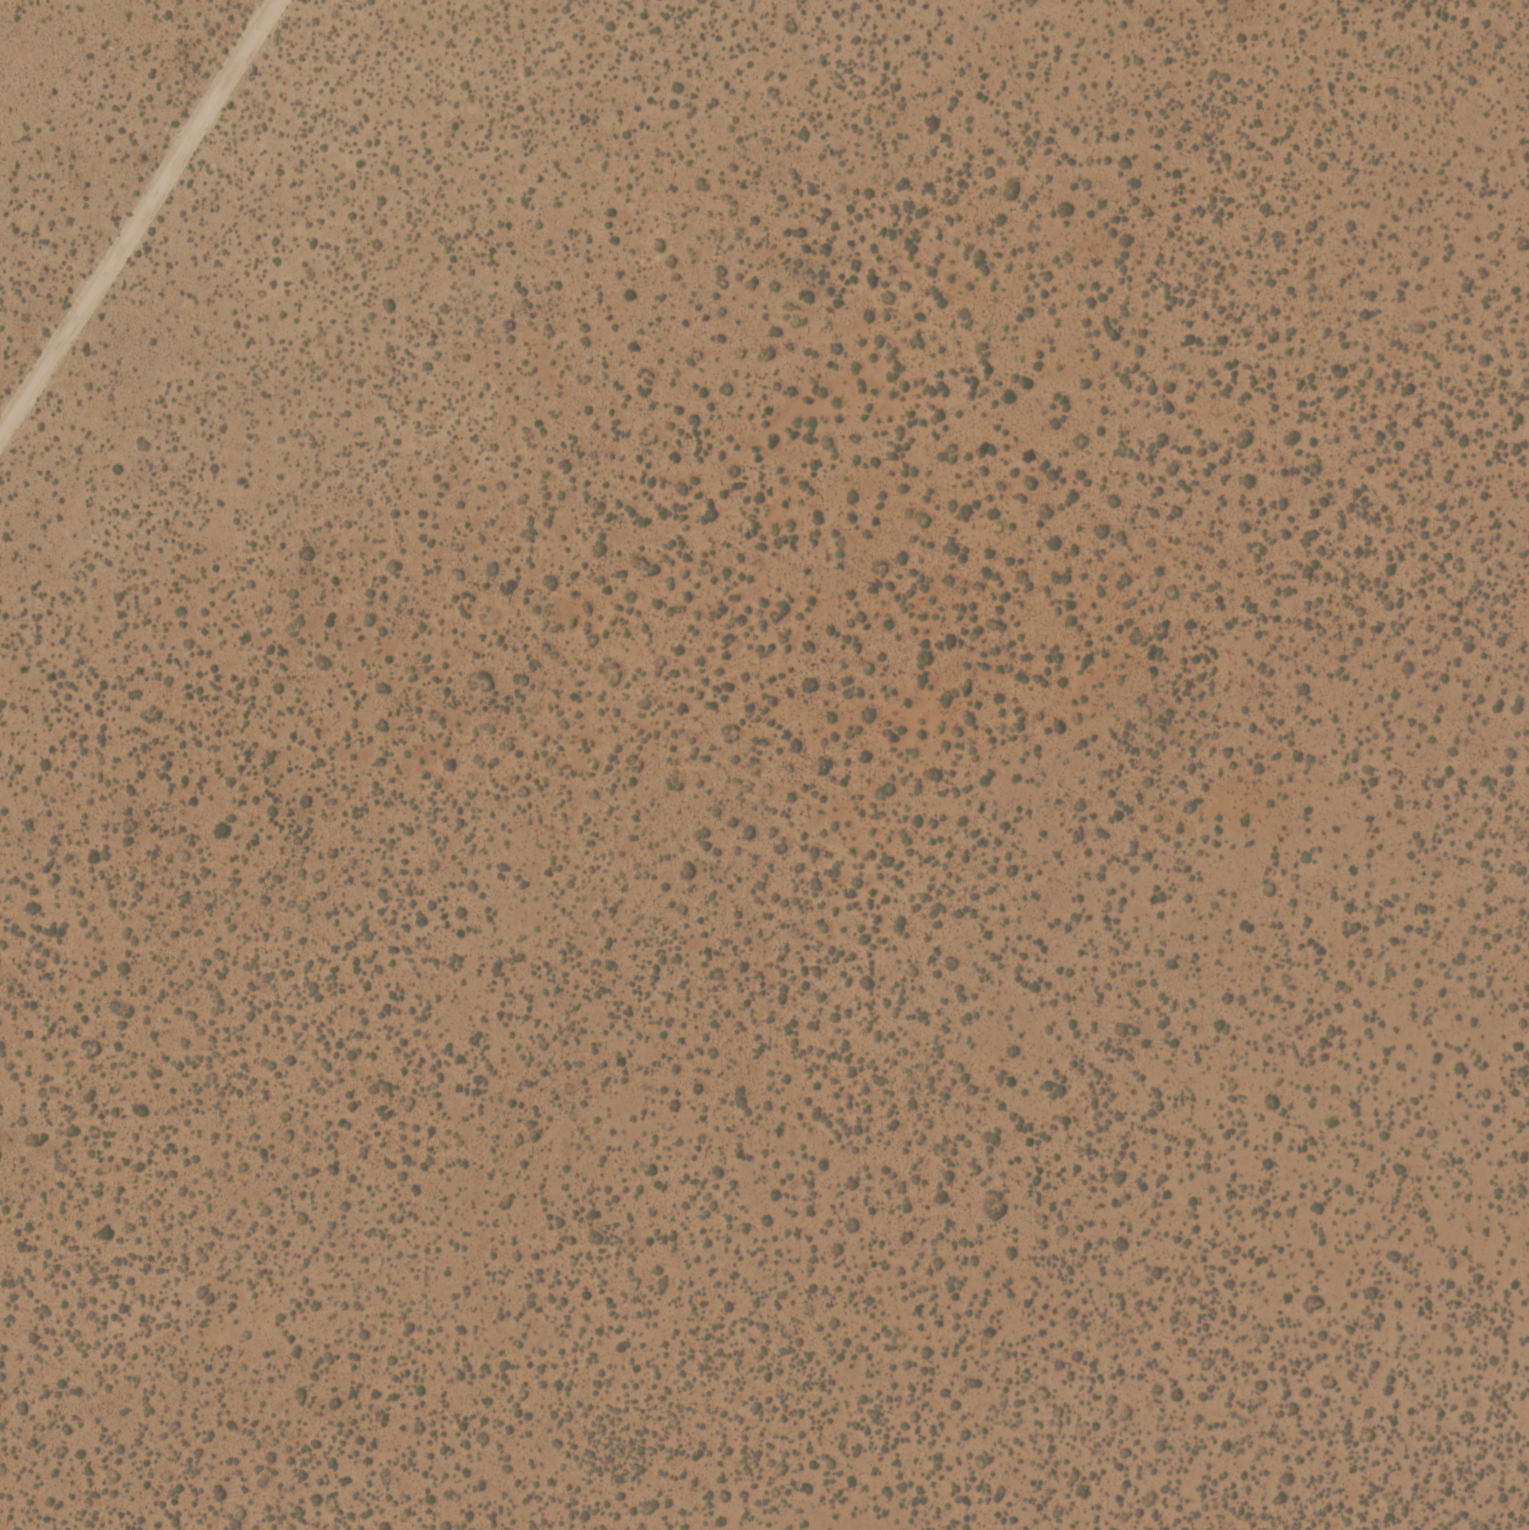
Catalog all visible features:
road: (137, 215)

